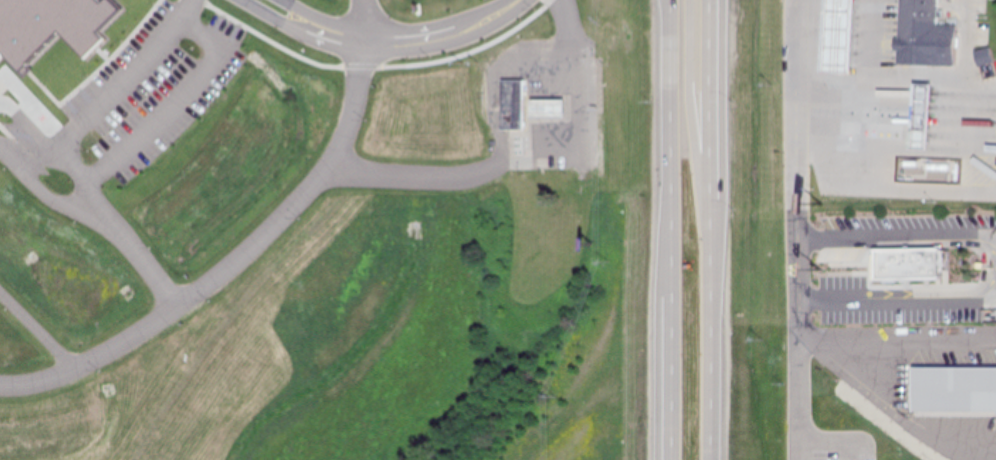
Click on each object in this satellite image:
road: (182, 6)
road: (358, 19)
building: (51, 26)
road: (439, 33)
building: (921, 35)
building: (833, 38)
gas station: (833, 38)
building: (364, 40)
road: (339, 41)
power tower: (601, 63)
road: (372, 65)
road: (868, 81)
parking lot: (154, 88)
building: (392, 95)
building: (917, 106)
building: (513, 108)
building: (551, 112)
gas station: (551, 112)
building: (257, 117)
road: (686, 126)
road: (956, 151)
road: (95, 171)
road: (800, 221)
road: (900, 226)
road: (671, 230)
road: (709, 230)
road: (231, 261)
power tower: (607, 262)
building: (904, 264)
road: (900, 290)
building: (955, 390)
power tower: (550, 397)
road: (822, 442)
parking lot: (830, 444)

